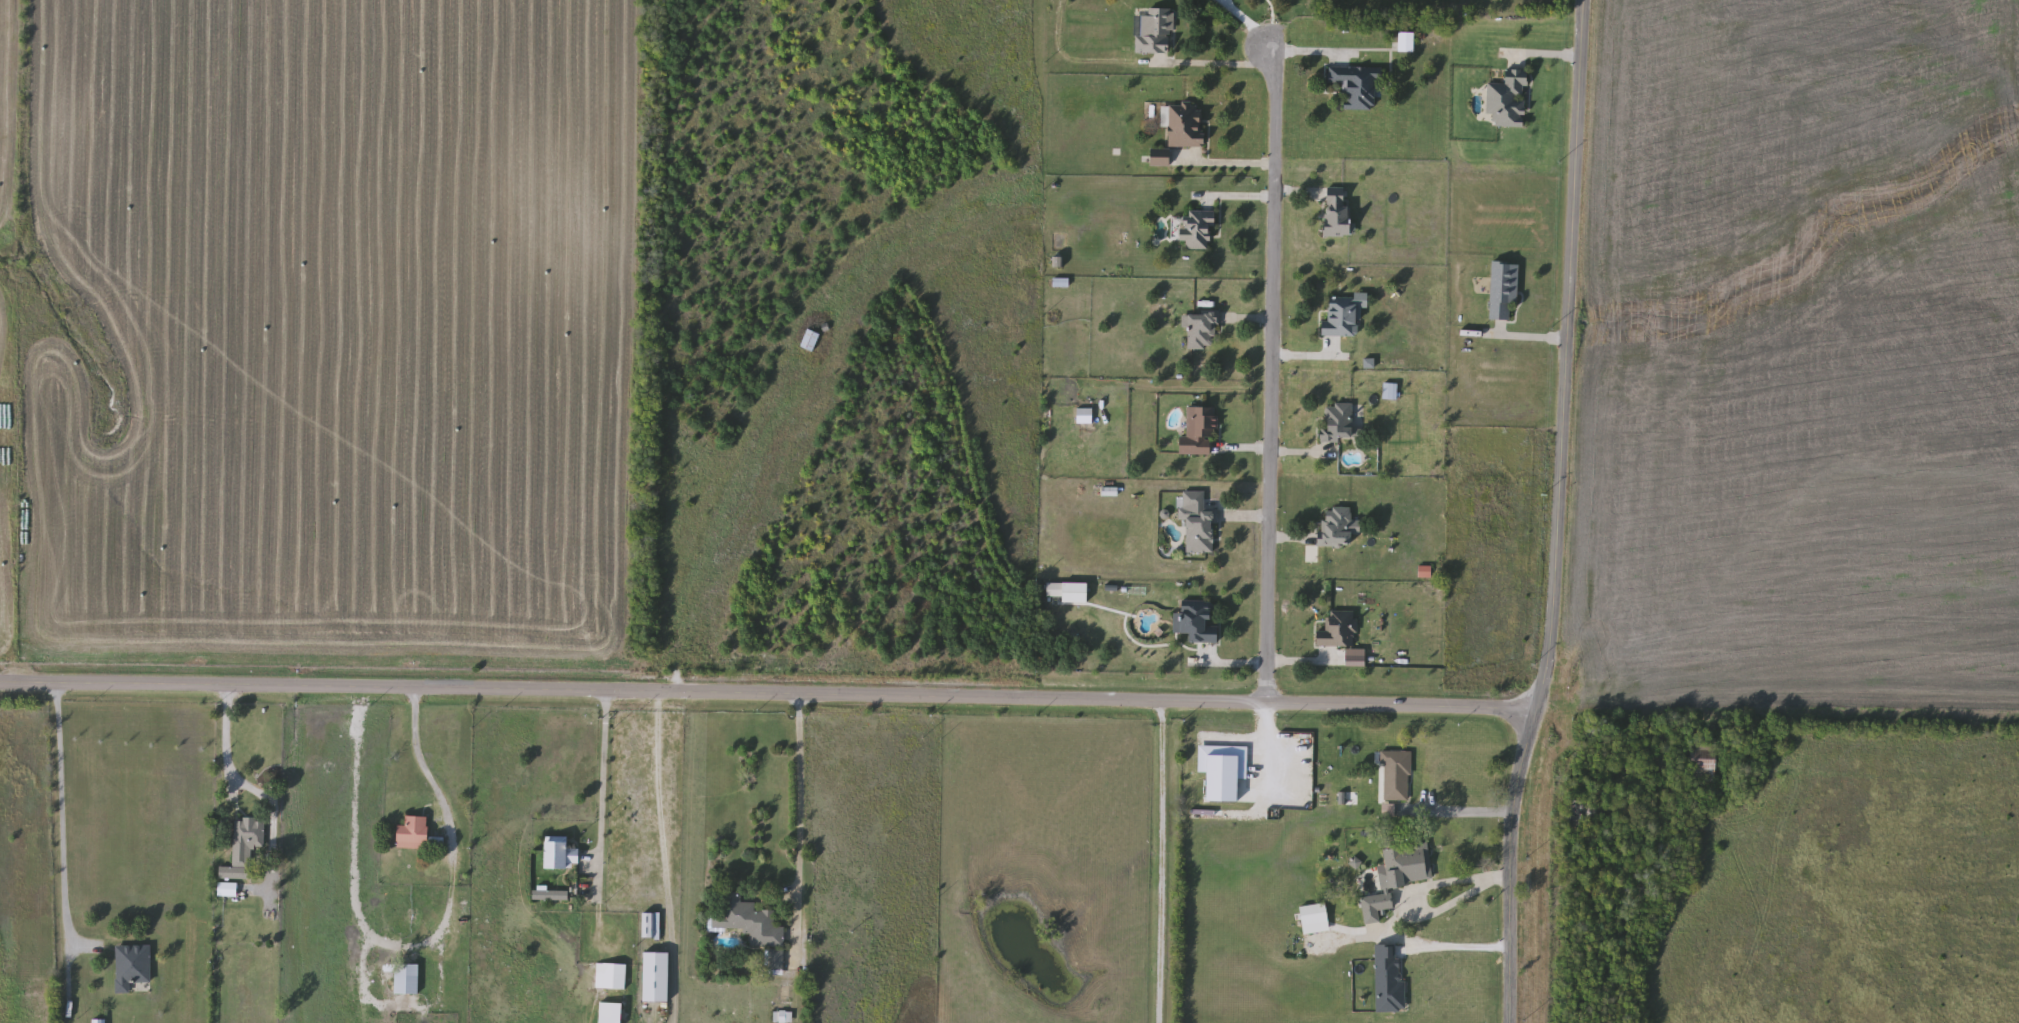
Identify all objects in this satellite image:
road: (1243, 24)
building: (1153, 31)
building: (1404, 42)
road: (1213, 70)
building: (1356, 86)
building: (1508, 100)
building: (1185, 125)
building: (1160, 158)
road: (1223, 167)
building: (1337, 214)
building: (1198, 230)
building: (1503, 290)
building: (1341, 318)
building: (1199, 331)
building: (808, 341)
road: (1268, 374)
building: (1389, 391)
building: (1337, 423)
building: (1197, 433)
road: (1561, 514)
building: (1196, 523)
building: (1336, 528)
building: (1052, 592)
building: (1197, 623)
building: (1337, 631)
road: (769, 693)
road: (1263, 757)
building: (1705, 762)
road: (235, 777)
building: (1394, 777)
road: (602, 781)
road: (798, 794)
road: (1465, 816)
road: (54, 817)
building: (412, 834)
building: (245, 841)
building: (556, 853)
road: (1160, 861)
building: (1403, 865)
road: (1432, 894)
building: (549, 896)
building: (1375, 907)
building: (1314, 915)
building: (745, 923)
road: (402, 944)
road: (1454, 949)
building: (130, 967)
building: (608, 977)
building: (399, 980)
building: (1389, 986)
building: (609, 1013)

